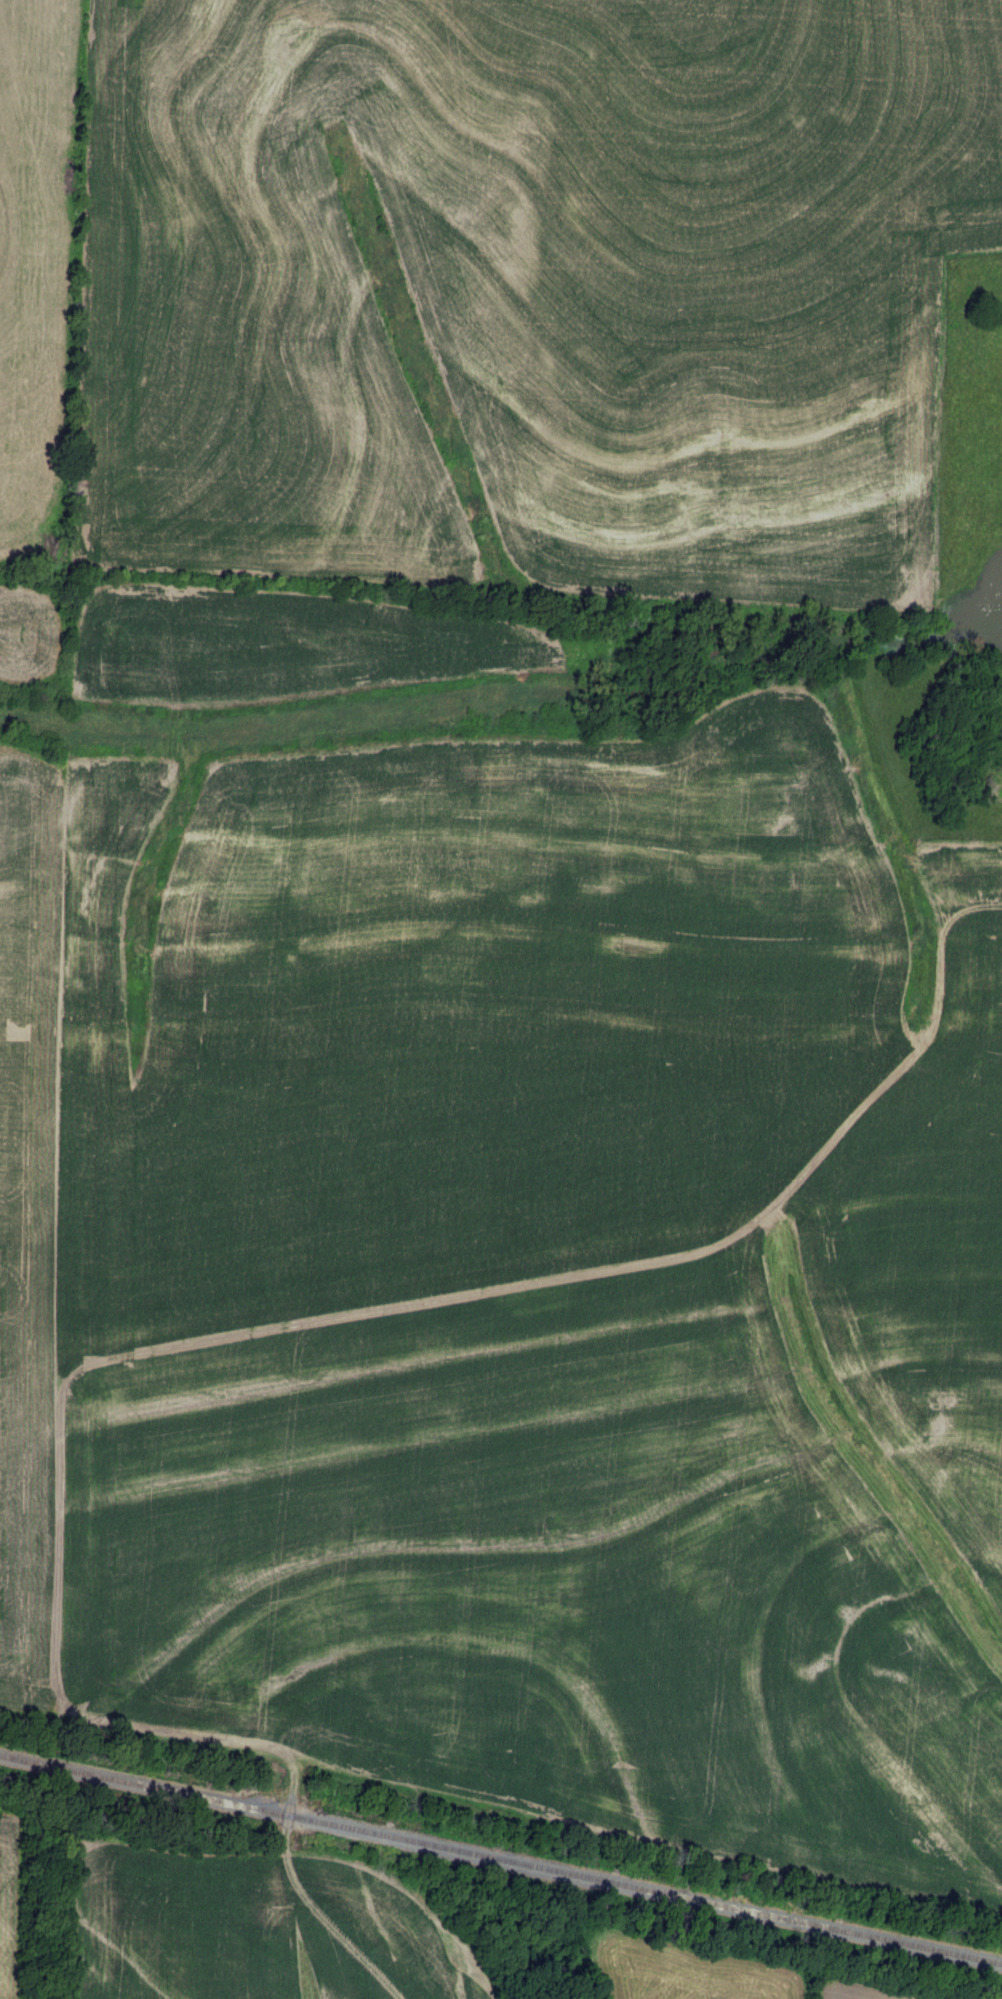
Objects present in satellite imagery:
railway: (501, 1862)

